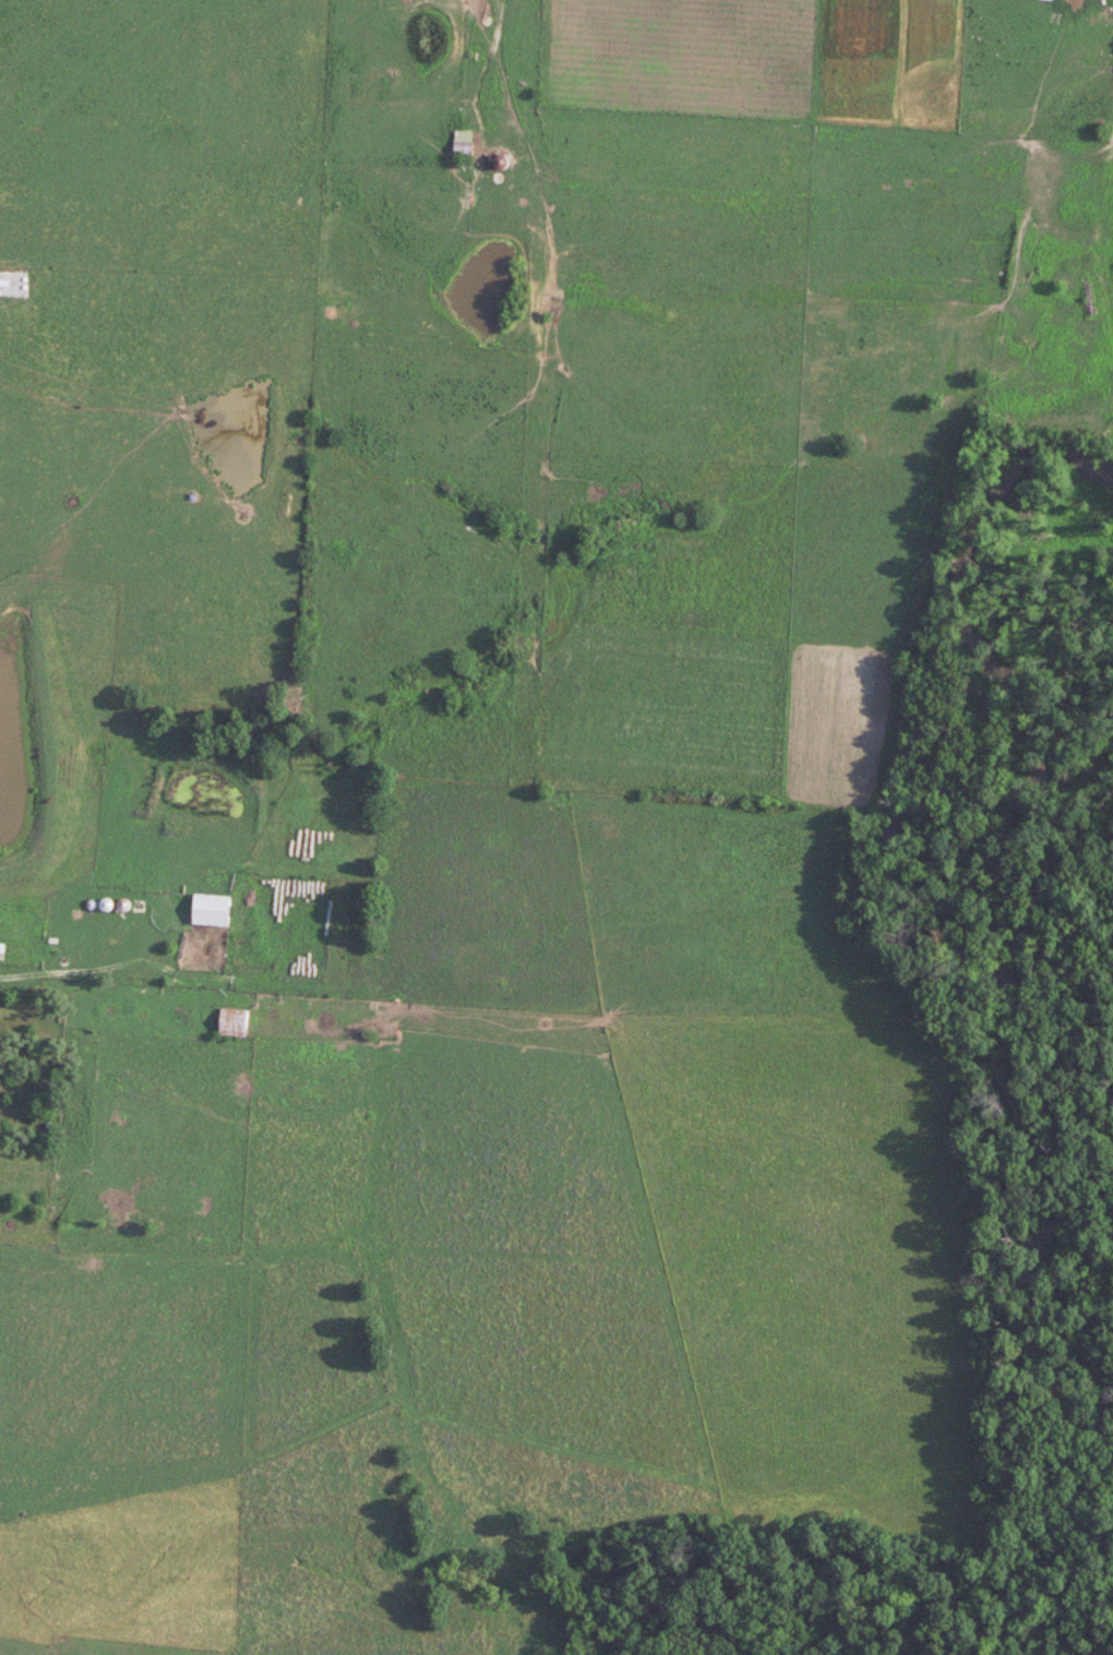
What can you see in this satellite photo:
building: (463, 148)
building: (211, 910)
road: (306, 987)

